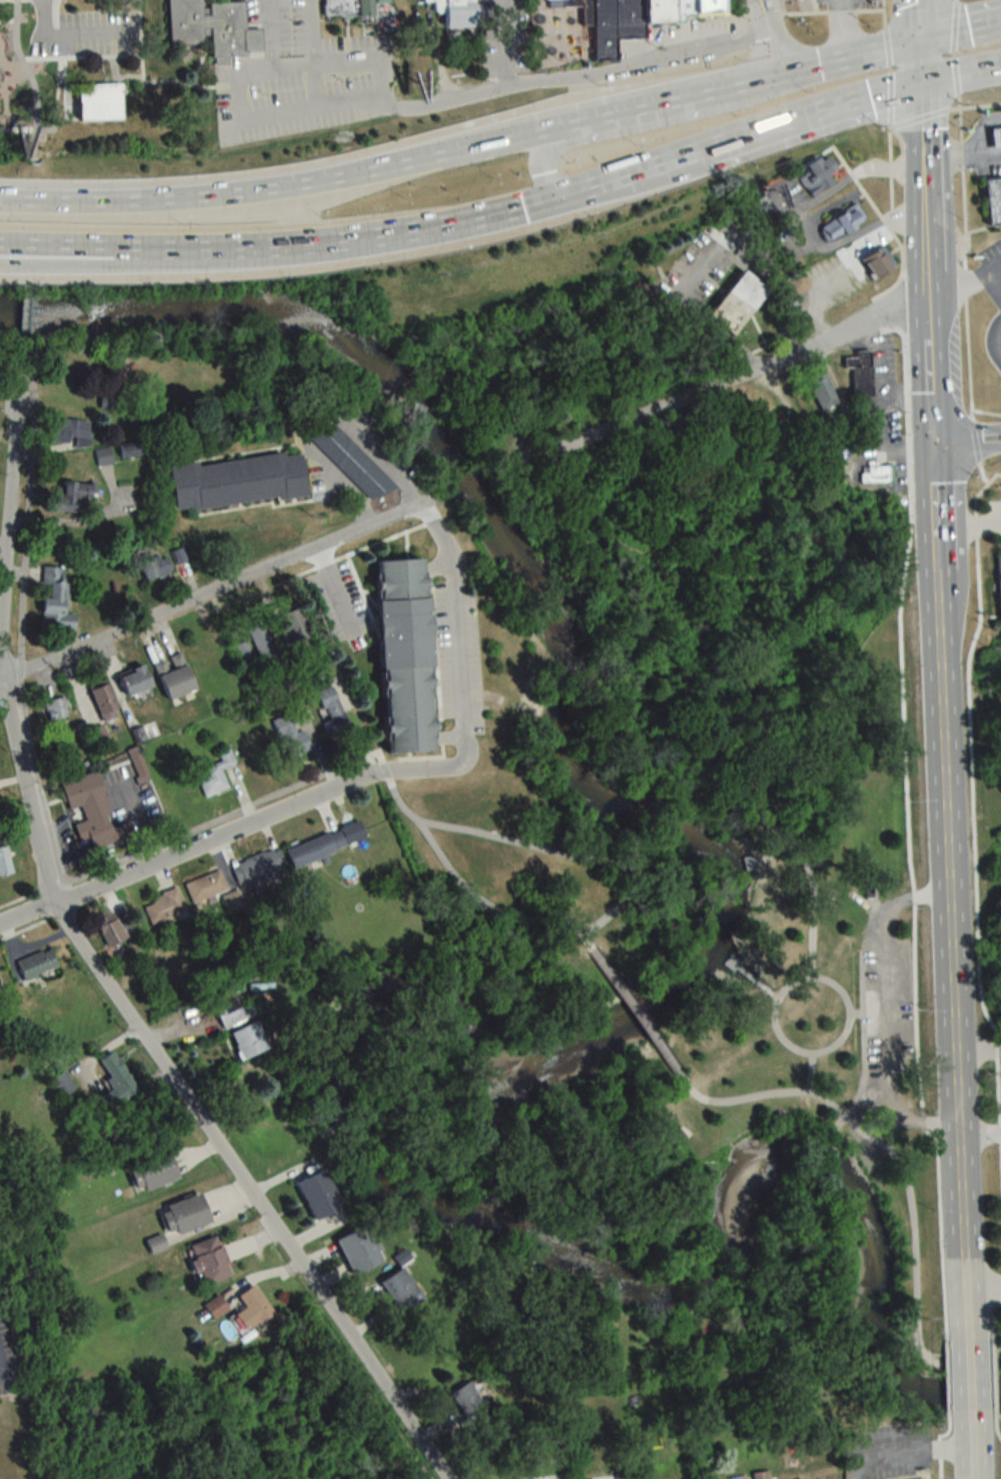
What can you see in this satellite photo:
road: (954, 0)
building: (561, 2)
road: (907, 3)
road: (844, 4)
building: (707, 5)
road: (781, 6)
building: (680, 7)
building: (353, 9)
building: (655, 9)
road: (872, 9)
road: (840, 10)
building: (584, 11)
building: (458, 12)
road: (802, 12)
road: (883, 12)
road: (52, 16)
road: (6, 18)
road: (921, 19)
building: (613, 24)
road: (953, 25)
road: (843, 27)
building: (208, 28)
traffic signals: (970, 29)
road: (311, 30)
road: (960, 30)
road: (68, 33)
parking lot: (88, 33)
road: (269, 34)
road: (769, 36)
traffic signals: (770, 37)
road: (502, 43)
road: (886, 45)
road: (869, 51)
road: (952, 53)
road: (78, 55)
road: (199, 57)
road: (921, 59)
traffic signals: (818, 64)
road: (14, 66)
road: (111, 67)
road: (889, 68)
road: (960, 71)
road: (8, 72)
road: (955, 74)
road: (126, 75)
road: (577, 75)
road: (769, 75)
park: (27, 77)
road: (27, 78)
road: (144, 79)
road: (383, 80)
road: (314, 82)
road: (56, 87)
road: (62, 88)
road: (237, 94)
traffic signals: (869, 94)
road: (889, 98)
building: (97, 99)
road: (3, 102)
road: (640, 104)
road: (974, 105)
road: (64, 115)
road: (918, 117)
road: (52, 119)
road: (922, 120)
road: (16, 128)
road: (758, 128)
traffic signals: (923, 128)
building: (992, 137)
road: (977, 140)
road: (462, 146)
road: (950, 154)
road: (540, 159)
traffic signals: (542, 171)
building: (812, 175)
road: (839, 182)
road: (924, 187)
road: (578, 189)
road: (184, 196)
building: (988, 200)
traffic signals: (519, 207)
road: (512, 208)
road: (890, 208)
building: (844, 223)
road: (811, 233)
road: (925, 238)
road: (55, 245)
road: (288, 245)
building: (841, 251)
road: (55, 252)
road: (964, 254)
road: (714, 256)
building: (880, 263)
road: (995, 268)
road: (926, 279)
road: (995, 280)
road: (959, 288)
road: (898, 294)
building: (740, 302)
road: (23, 324)
road: (997, 343)
road: (928, 369)
building: (862, 372)
road: (726, 383)
building: (824, 390)
road: (986, 412)
road: (323, 418)
building: (69, 431)
road: (974, 438)
road: (966, 440)
traffic signals: (932, 442)
building: (104, 455)
building: (352, 462)
road: (981, 472)
building: (878, 474)
building: (239, 481)
building: (73, 495)
road: (934, 509)
road: (968, 524)
building: (156, 566)
building: (997, 586)
road: (211, 589)
building: (56, 600)
building: (297, 624)
road: (938, 625)
road: (457, 632)
building: (260, 641)
road: (10, 648)
building: (243, 651)
building: (408, 658)
building: (175, 676)
building: (137, 680)
building: (105, 703)
building: (55, 709)
building: (333, 714)
road: (970, 735)
building: (291, 737)
building: (215, 774)
building: (93, 812)
road: (223, 836)
building: (317, 847)
road: (574, 855)
road: (119, 859)
pier: (753, 860)
building: (5, 862)
building: (260, 867)
road: (811, 884)
building: (207, 885)
building: (233, 901)
building: (165, 906)
building: (109, 927)
building: (37, 964)
road: (100, 978)
pier: (752, 979)
parking lot: (884, 1002)
park: (828, 1008)
road: (881, 1011)
building: (234, 1013)
road: (635, 1013)
road: (856, 1014)
road: (950, 1016)
building: (249, 1041)
road: (839, 1041)
road: (863, 1046)
road: (976, 1048)
river: (564, 1065)
road: (809, 1073)
building: (117, 1081)
building: (62, 1083)
road: (978, 1134)
building: (153, 1172)
road: (903, 1174)
building: (319, 1195)
building: (185, 1216)
building: (360, 1250)
building: (211, 1260)
road: (980, 1286)
building: (402, 1290)
building: (216, 1307)
building: (253, 1309)
road: (0, 1362)
road: (964, 1394)
building: (470, 1404)
road: (900, 1449)
road: (967, 1453)
building: (760, 1475)
building: (922, 1478)

